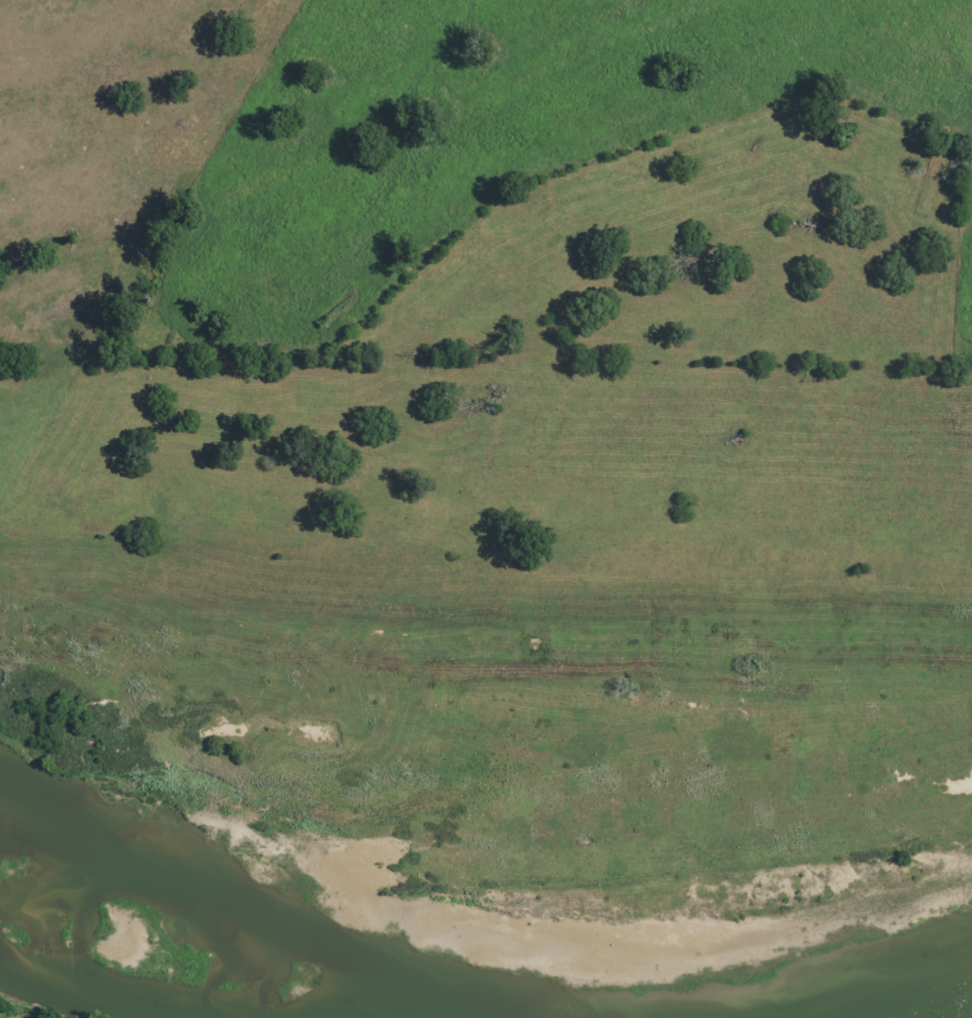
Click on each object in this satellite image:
river: (467, 1000)

